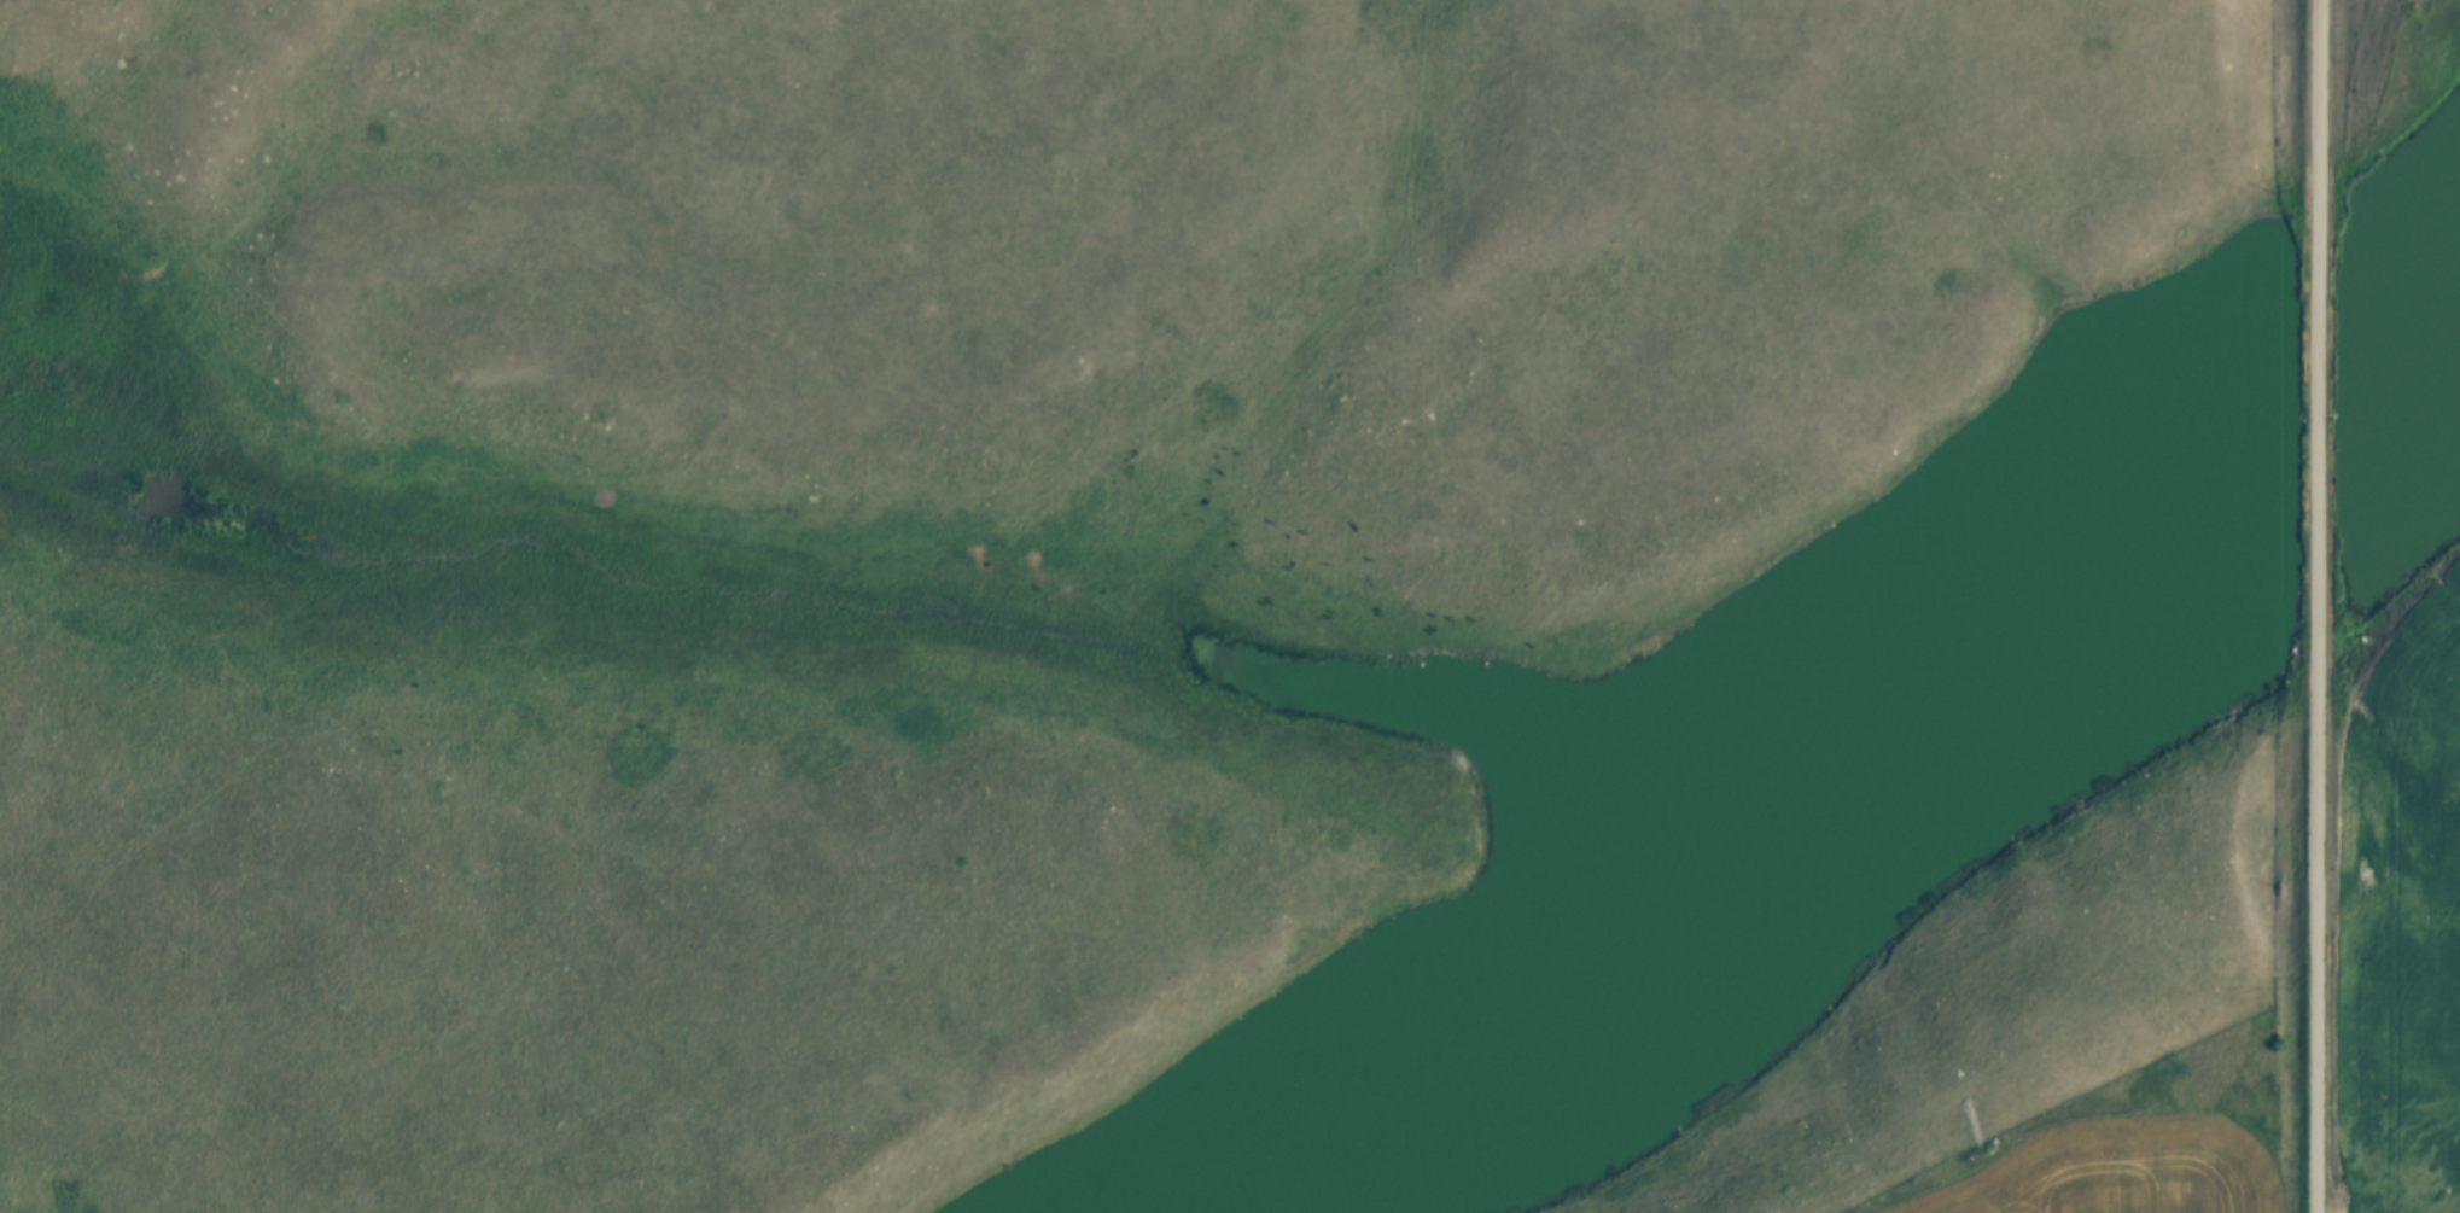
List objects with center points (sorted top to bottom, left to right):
road: (2318, 606)

